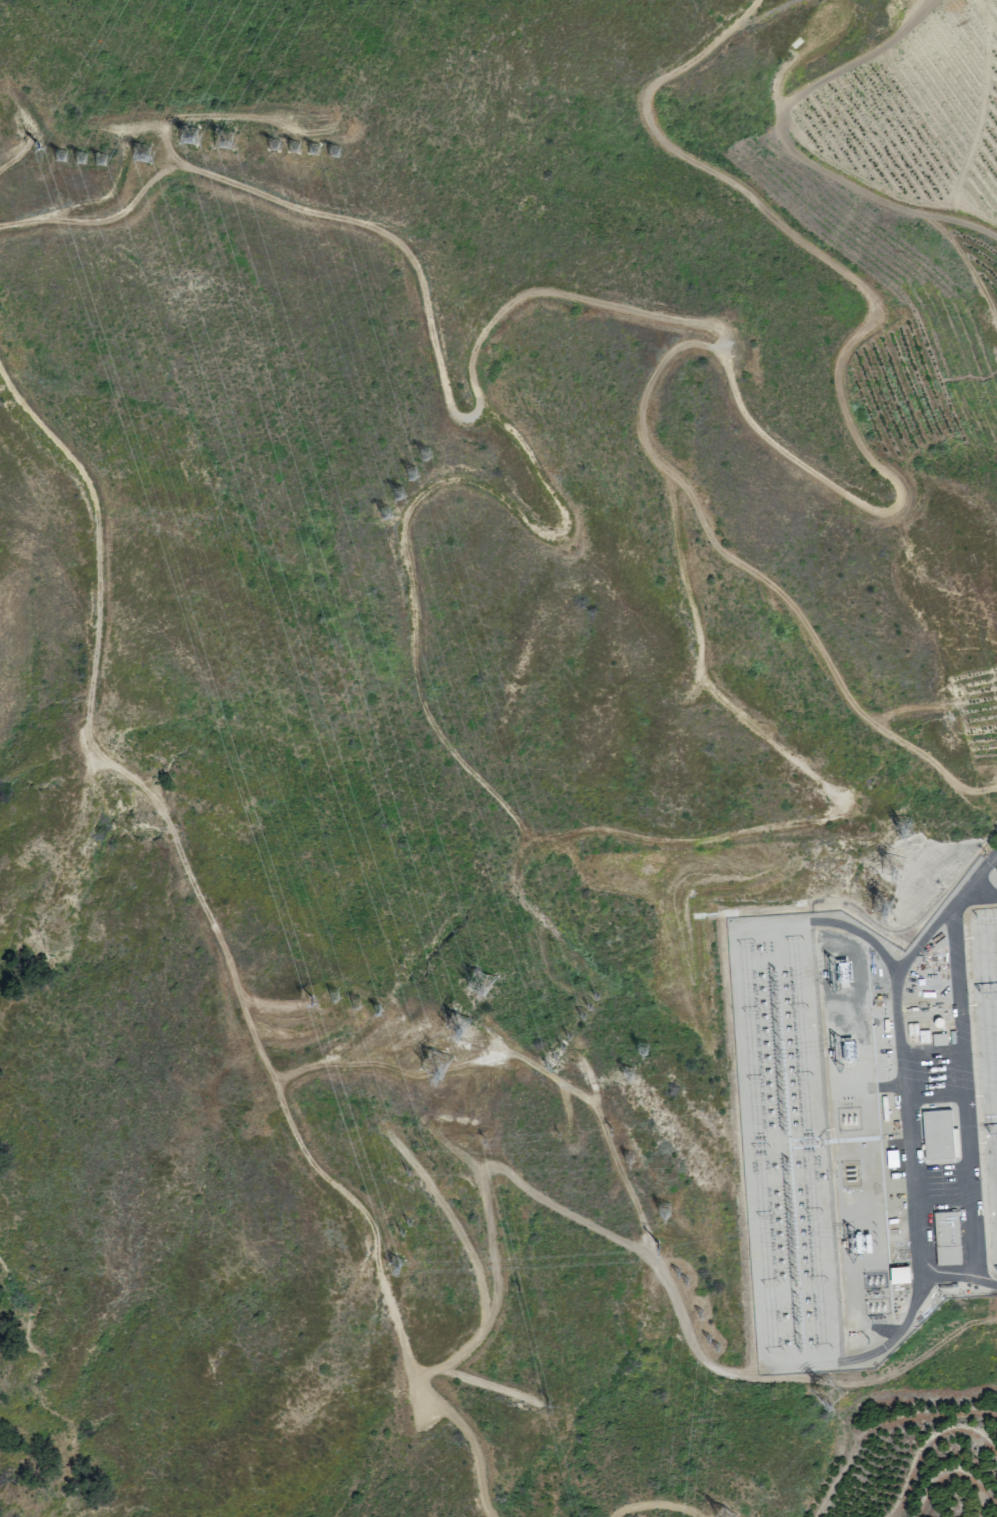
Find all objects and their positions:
power tower: (183, 141)
power tower: (221, 145)
power tower: (31, 149)
power tower: (271, 149)
power tower: (290, 149)
power tower: (139, 154)
power tower: (307, 154)
power tower: (330, 156)
power tower: (56, 159)
power tower: (76, 161)
power tower: (96, 166)
road: (718, 346)
power tower: (423, 457)
power tower: (410, 477)
power tower: (398, 496)
power tower: (381, 513)
power tower: (904, 824)
power tower: (908, 861)
road: (190, 863)
road: (973, 885)
power tower: (883, 904)
road: (860, 934)
power tower: (479, 980)
power tower: (595, 995)
power tower: (331, 1000)
power tower: (351, 1001)
power tower: (306, 1002)
power tower: (588, 1007)
power tower: (376, 1010)
power tower: (582, 1018)
power tower: (454, 1025)
power tower: (568, 1039)
power tower: (560, 1046)
power tower: (640, 1048)
power tower: (553, 1056)
power tower: (430, 1064)
power tower: (546, 1068)
power tower: (626, 1071)
power substation: (866, 1125)
building: (938, 1134)
power tower: (420, 1147)
power tower: (626, 1157)
power tower: (408, 1174)
road: (532, 1194)
power tower: (660, 1208)
power tower: (407, 1223)
power tower: (398, 1233)
building: (945, 1237)
power tower: (658, 1242)
power tower: (393, 1265)
power tower: (677, 1271)
road: (935, 1272)
building: (898, 1273)
power tower: (685, 1279)
power tower: (700, 1311)
power tower: (710, 1337)
power tower: (718, 1346)
road: (864, 1355)
power tower: (828, 1391)
power tower: (540, 1401)
power tower: (723, 1516)

